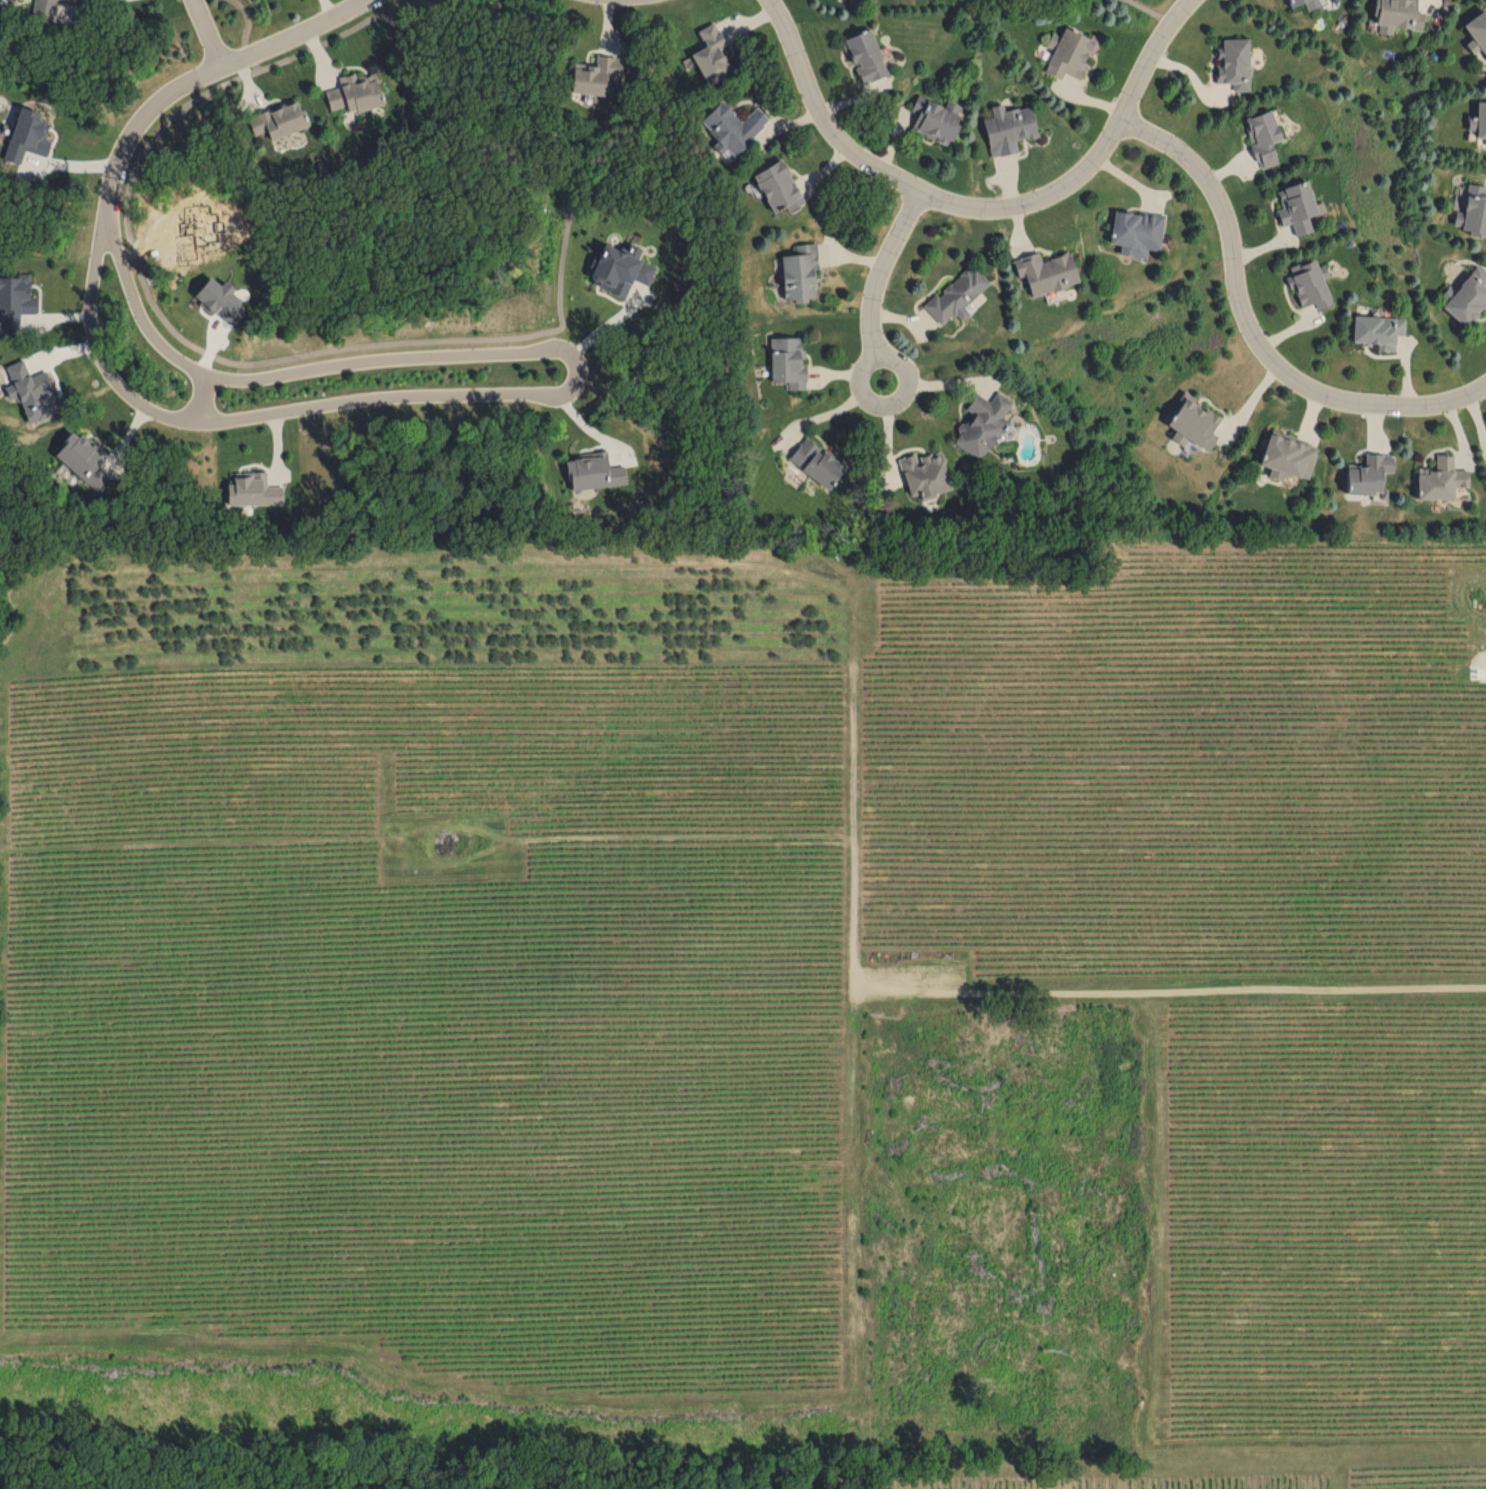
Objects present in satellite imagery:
building: (67, 0)
building: (1304, 2)
building: (44, 4)
road: (66, 5)
building: (1397, 15)
building: (1478, 29)
road: (209, 33)
road: (298, 34)
building: (1069, 52)
building: (710, 54)
building: (865, 55)
building: (1233, 62)
building: (595, 74)
building: (354, 92)
building: (936, 118)
building: (278, 119)
building: (1481, 119)
road: (135, 123)
building: (732, 126)
building: (1008, 127)
building: (27, 134)
building: (1262, 136)
building: (778, 186)
building: (1298, 206)
building: (1473, 210)
road: (982, 212)
building: (1136, 231)
building: (619, 266)
building: (1046, 271)
building: (800, 272)
road: (880, 274)
building: (1311, 283)
building: (956, 294)
building: (1468, 297)
building: (15, 300)
road: (610, 320)
building: (1378, 330)
road: (1253, 334)
building: (788, 361)
road: (306, 367)
road: (202, 396)
road: (893, 407)
road: (261, 413)
building: (983, 422)
building: (1193, 422)
building: (1287, 454)
building: (82, 458)
building: (816, 461)
building: (593, 471)
building: (924, 473)
building: (1368, 473)
building: (1439, 478)
building: (252, 489)

